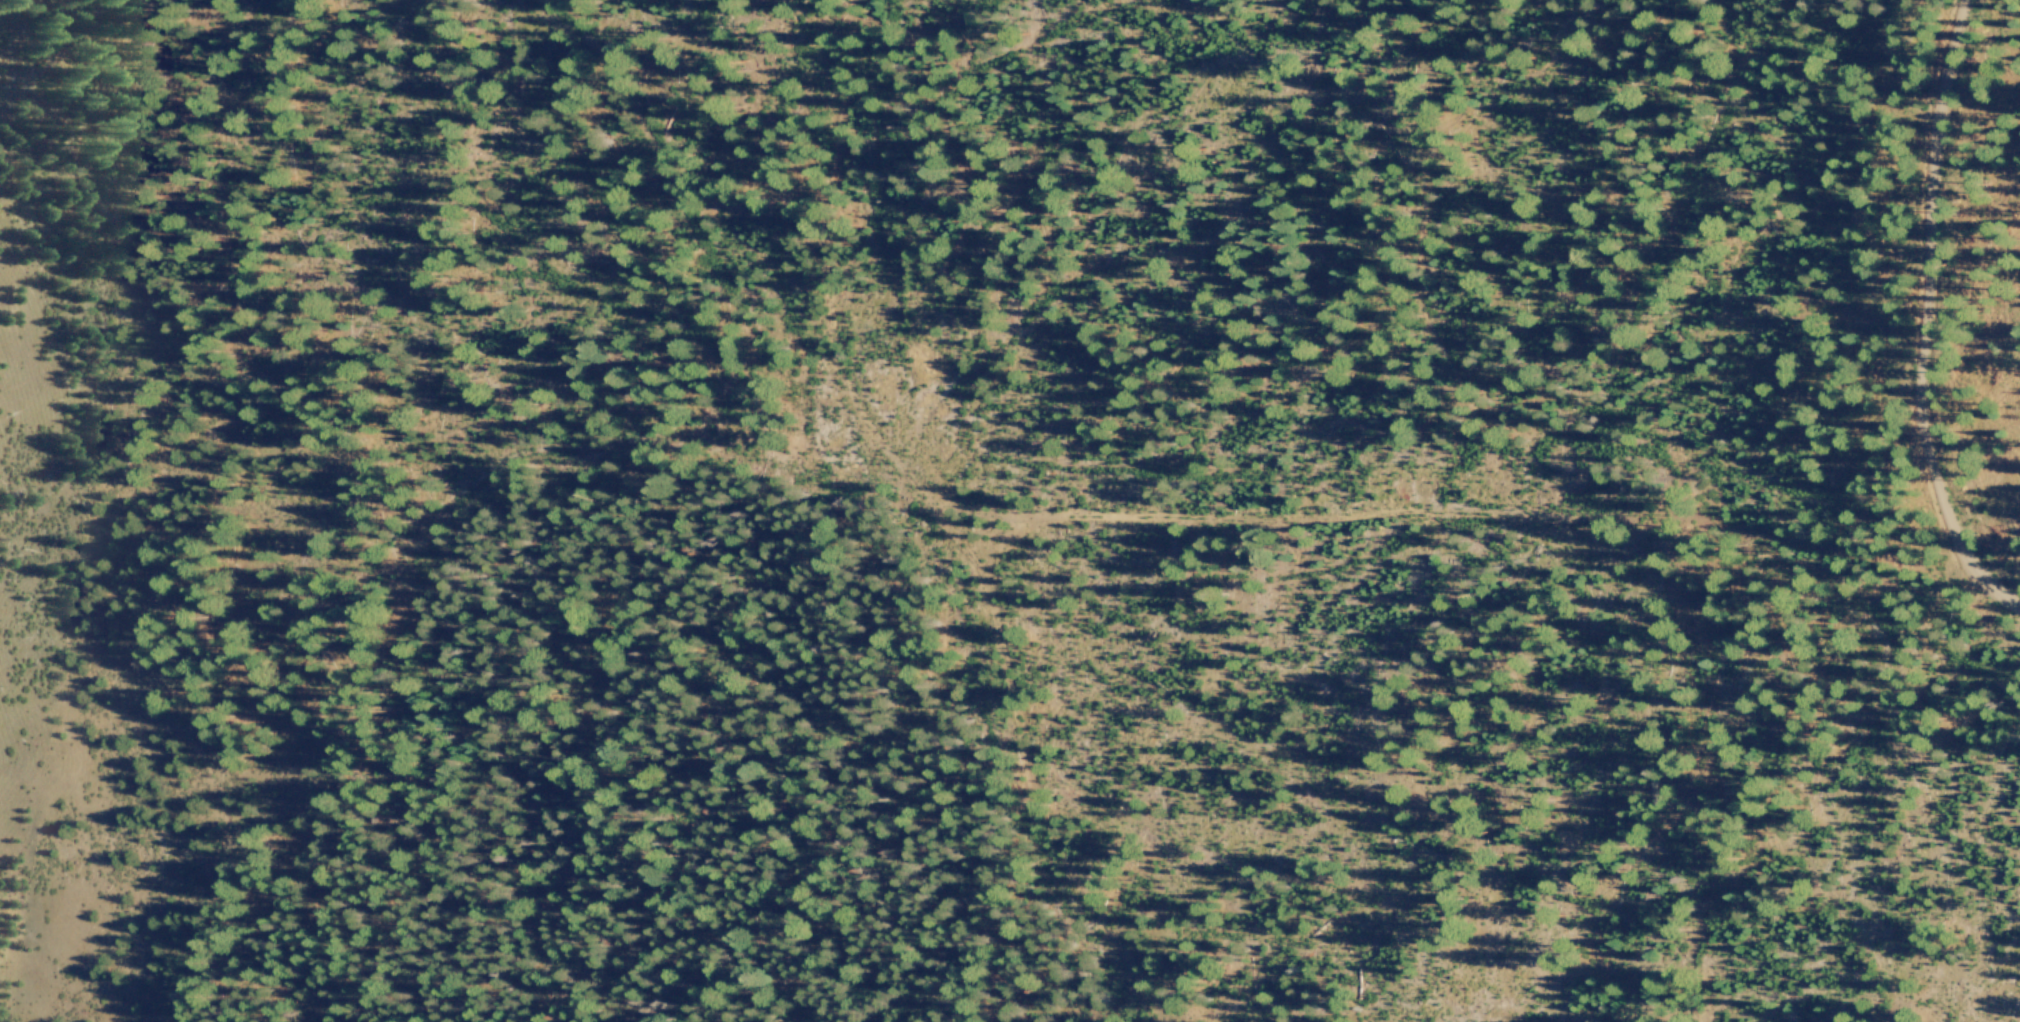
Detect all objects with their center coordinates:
road: (1932, 310)

